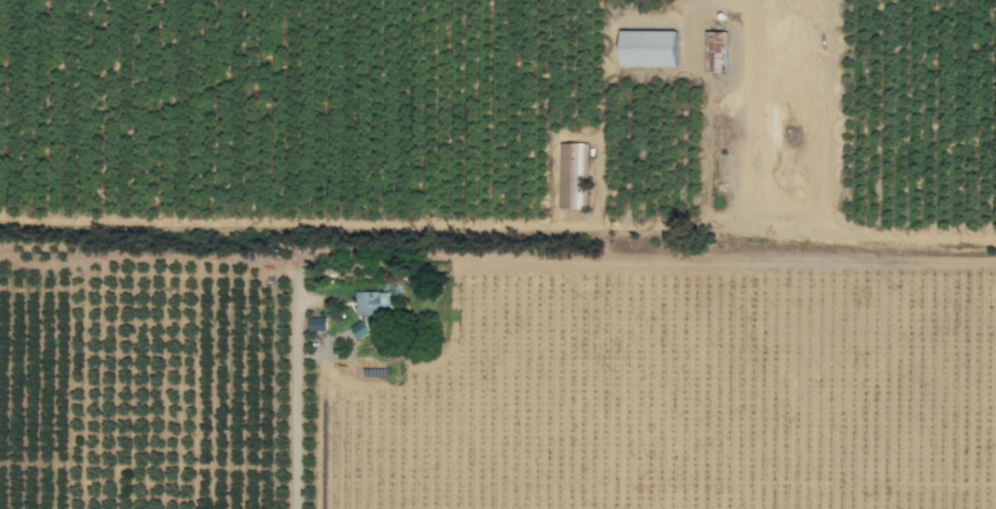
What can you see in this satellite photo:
building: (649, 48)
building: (717, 51)
building: (573, 176)
building: (375, 302)
building: (317, 324)
building: (359, 329)
road: (298, 389)

